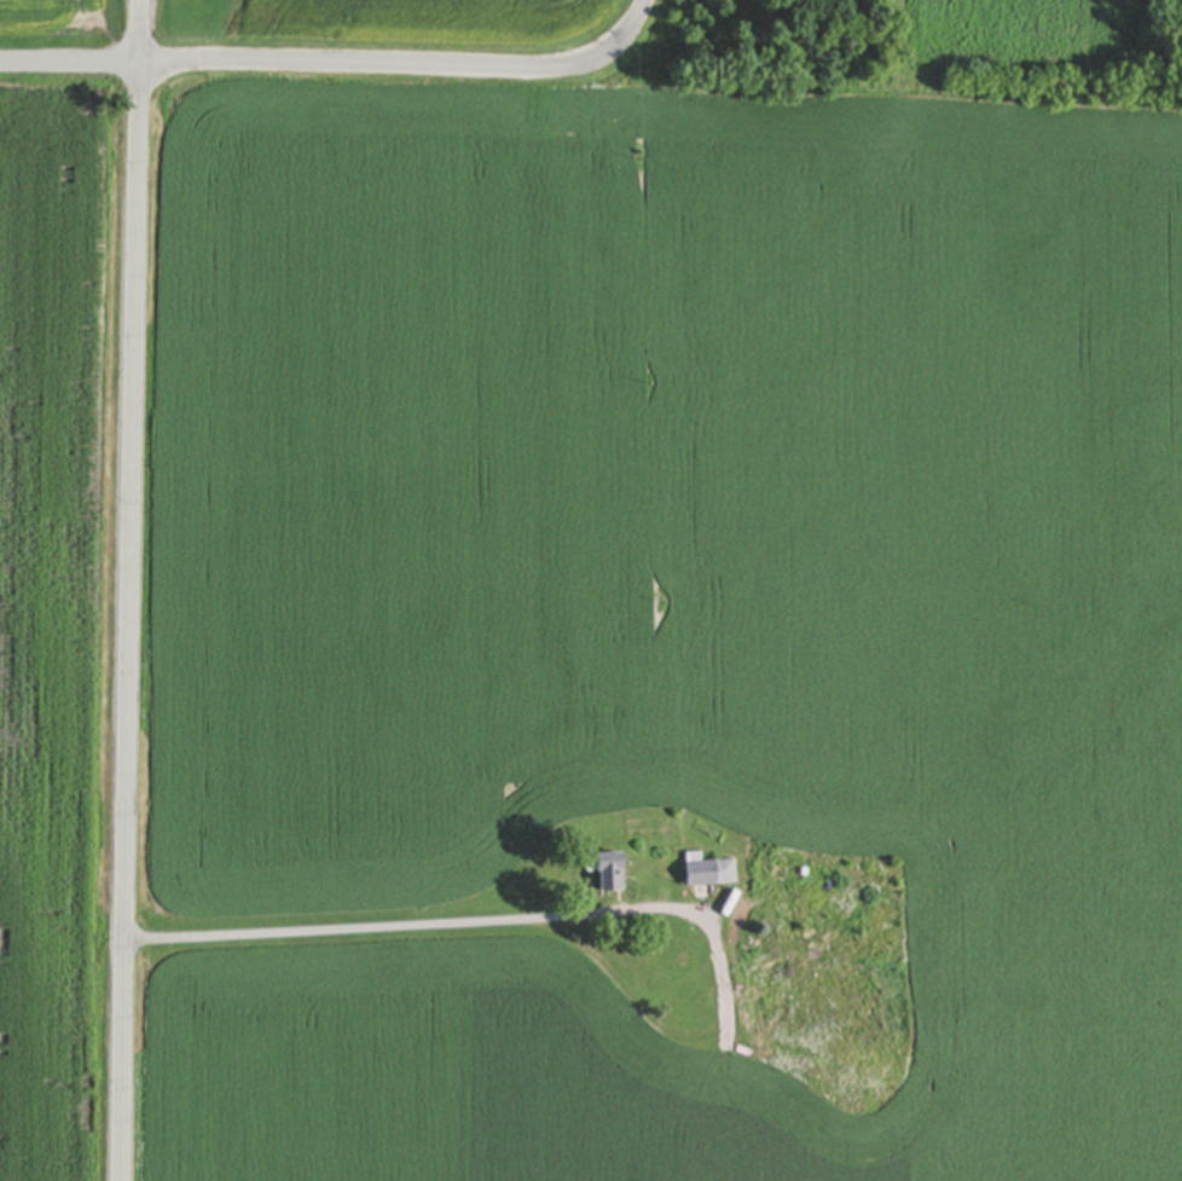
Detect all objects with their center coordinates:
road: (340, 64)
road: (127, 590)
building: (608, 872)
building: (709, 874)
road: (371, 932)
building: (784, 971)
building: (857, 1078)

